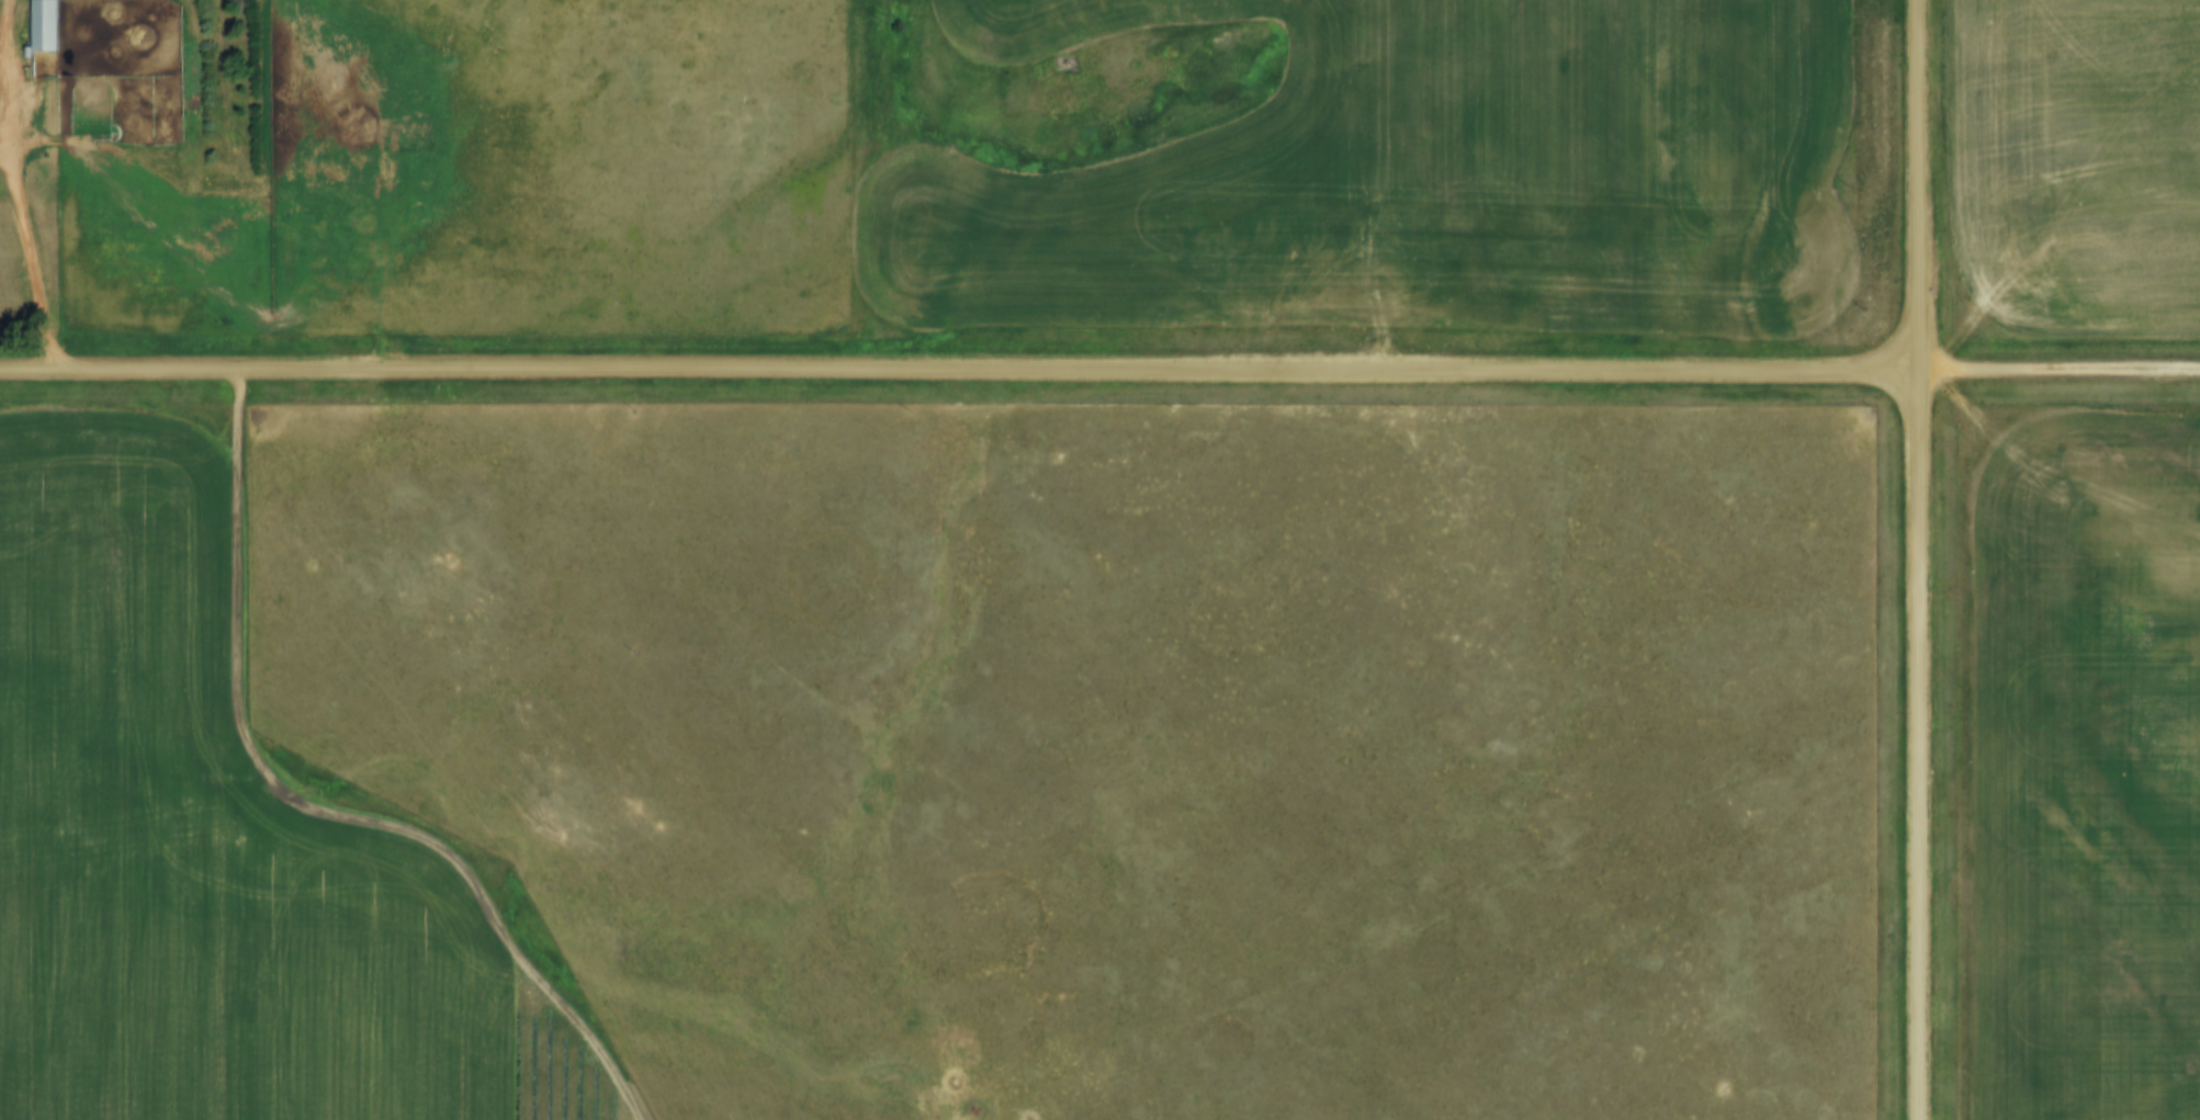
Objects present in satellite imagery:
building: (45, 25)
road: (21, 210)
road: (2060, 367)
road: (959, 369)
road: (1918, 559)
road: (326, 812)

